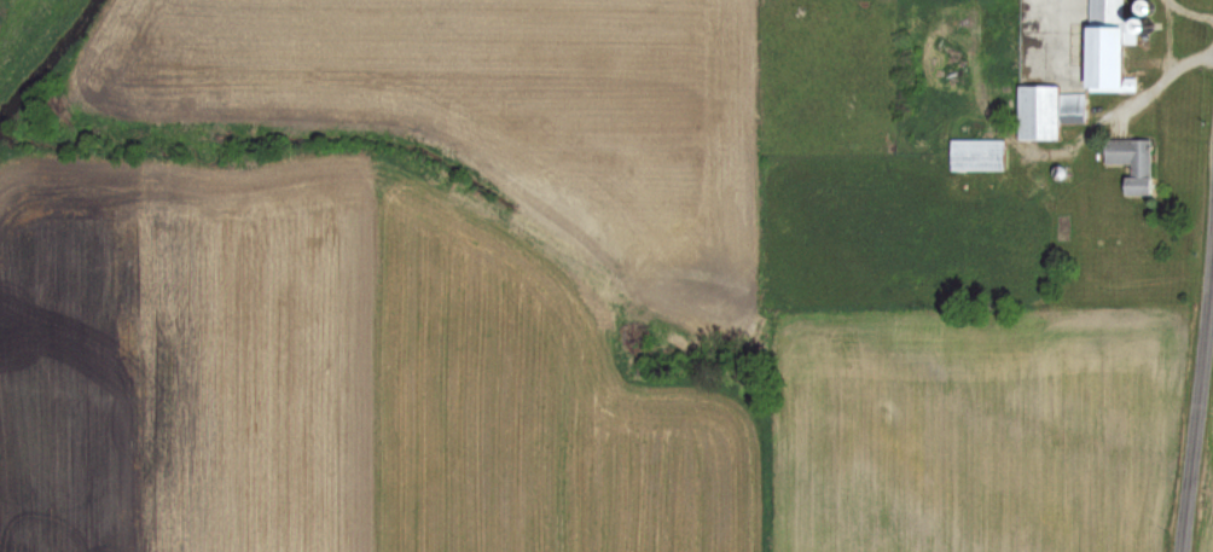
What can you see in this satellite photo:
building: (1105, 45)
road: (1154, 87)
building: (1045, 110)
building: (975, 153)
building: (1130, 162)
road: (1199, 342)

